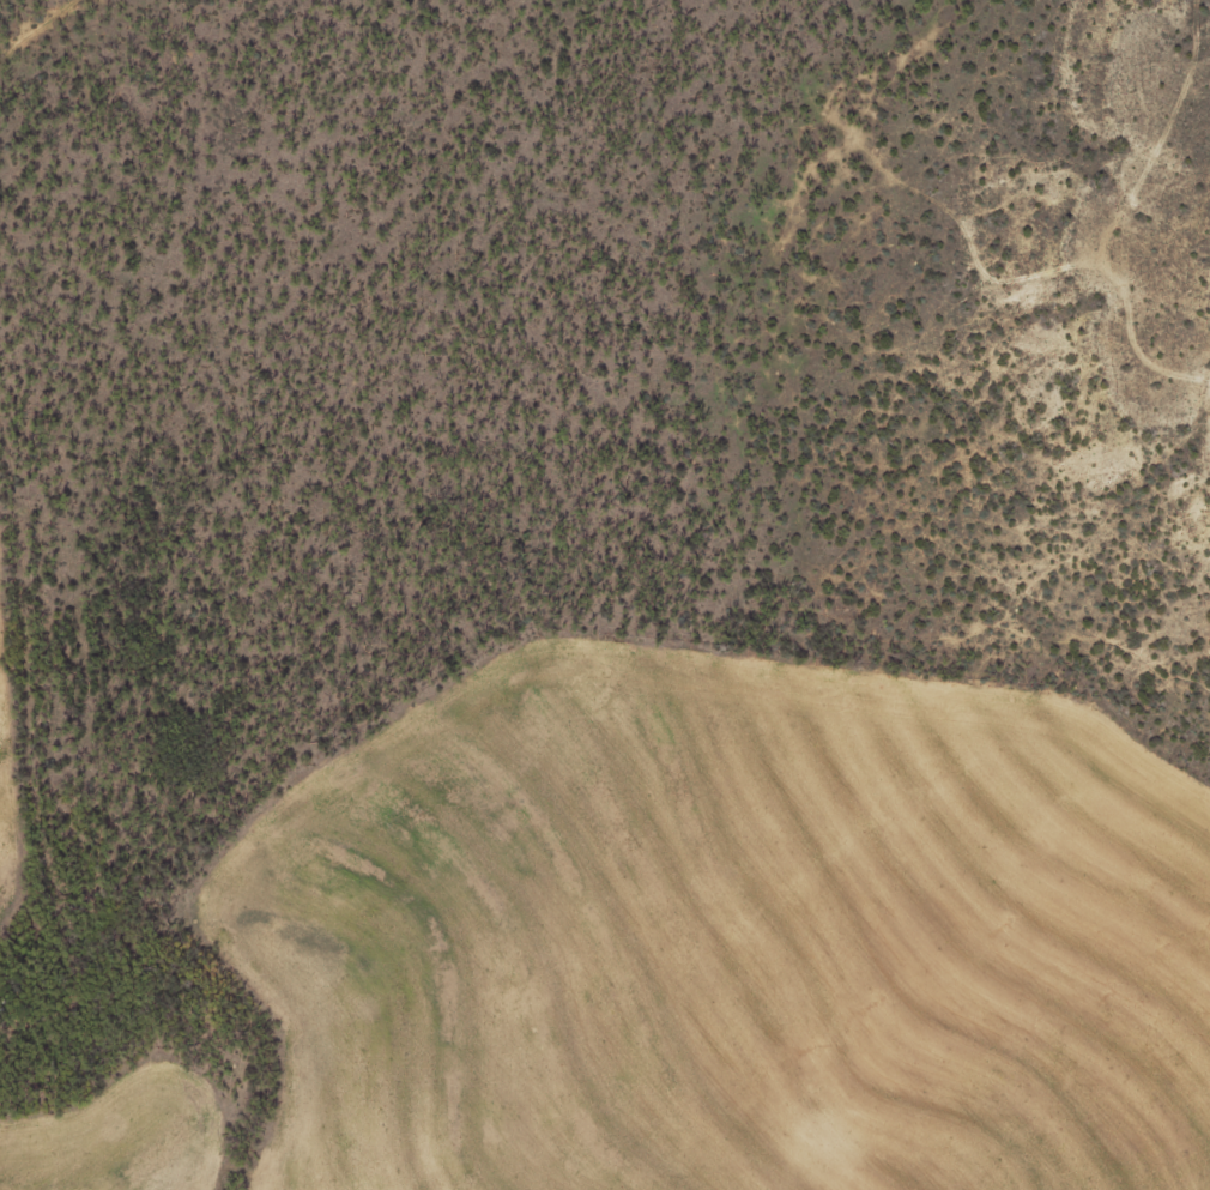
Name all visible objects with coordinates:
road: (5, 820)

